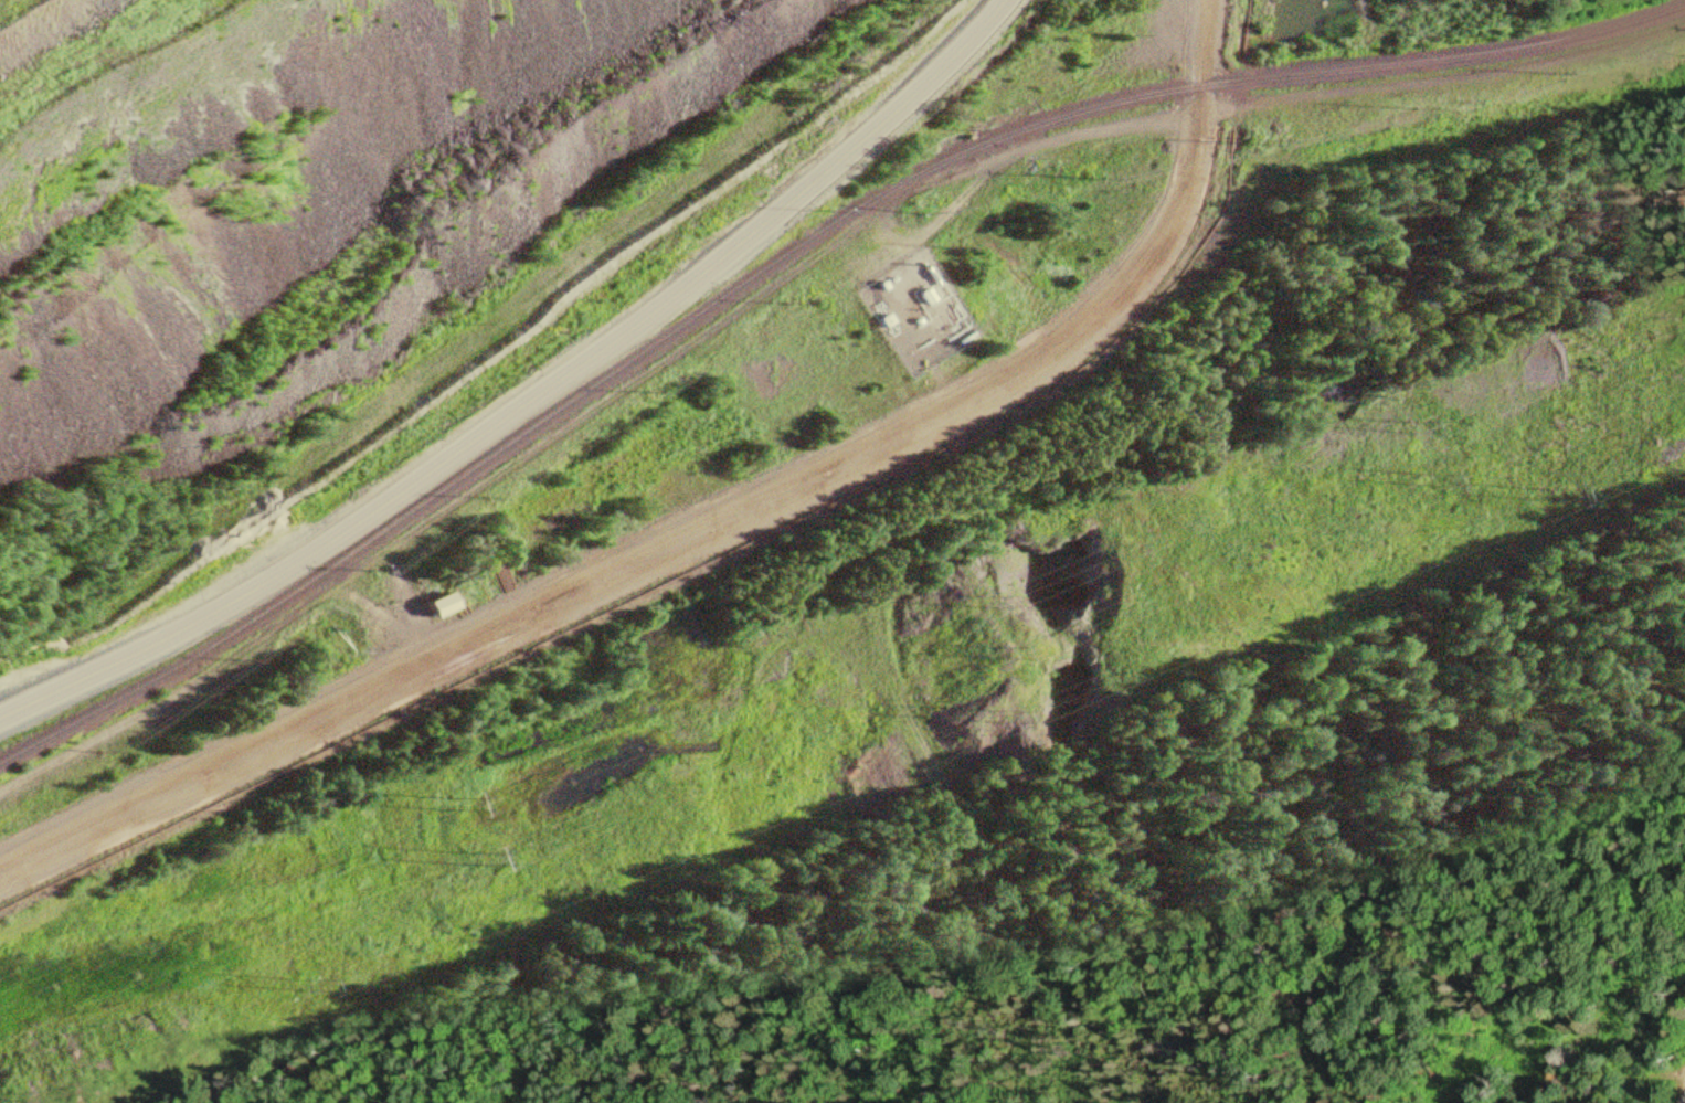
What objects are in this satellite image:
quarry: (297, 180)
railway: (792, 252)
road: (426, 358)
road: (529, 403)
road: (924, 420)
road: (528, 458)
road: (284, 535)
building: (435, 606)

